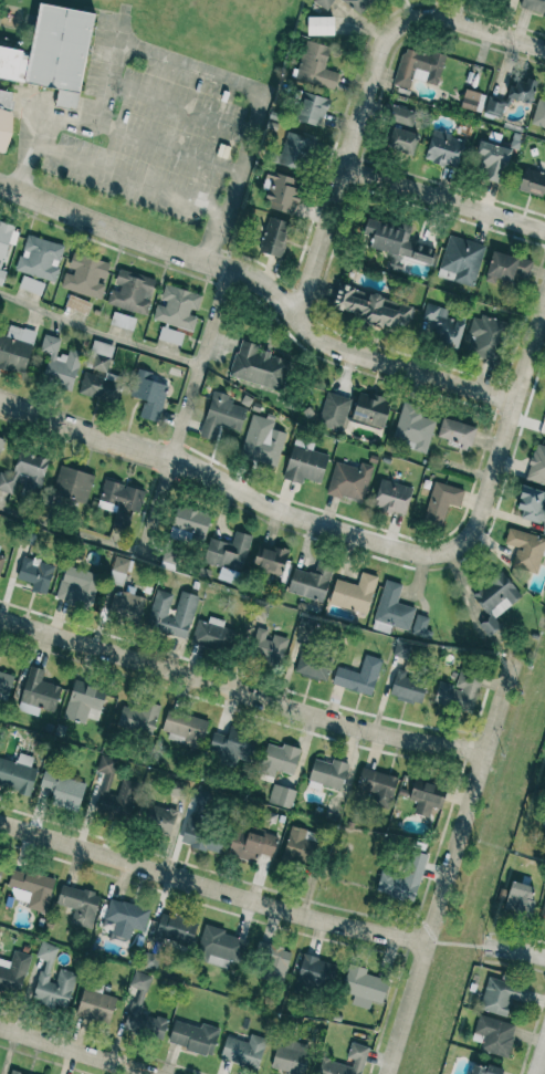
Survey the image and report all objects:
building: (324, 3)
building: (358, 4)
building: (534, 6)
building: (319, 25)
road: (473, 30)
road: (140, 46)
building: (52, 49)
building: (315, 65)
building: (418, 67)
building: (523, 90)
building: (472, 101)
road: (180, 105)
road: (51, 106)
building: (494, 107)
building: (312, 110)
building: (539, 113)
building: (400, 115)
building: (4, 118)
building: (544, 133)
building: (400, 139)
building: (295, 149)
building: (444, 149)
building: (492, 160)
road: (344, 168)
road: (124, 176)
building: (533, 181)
building: (282, 191)
road: (444, 200)
building: (274, 236)
building: (7, 240)
building: (396, 240)
building: (40, 258)
building: (460, 260)
building: (506, 268)
building: (85, 275)
building: (1, 277)
building: (31, 285)
road: (264, 288)
building: (132, 292)
building: (77, 304)
building: (177, 307)
building: (375, 309)
building: (123, 321)
building: (442, 326)
road: (97, 332)
building: (170, 336)
building: (484, 337)
building: (15, 348)
building: (101, 356)
building: (59, 364)
building: (260, 367)
building: (96, 387)
building: (148, 395)
building: (334, 410)
building: (370, 410)
building: (221, 416)
building: (415, 428)
building: (455, 432)
road: (504, 432)
building: (262, 441)
building: (1, 442)
building: (305, 465)
building: (537, 465)
building: (31, 470)
building: (7, 481)
road: (161, 481)
building: (349, 481)
building: (73, 483)
road: (222, 483)
building: (392, 497)
building: (120, 498)
building: (60, 501)
building: (441, 502)
building: (532, 505)
building: (189, 525)
building: (525, 550)
building: (270, 560)
building: (1, 563)
building: (118, 570)
building: (35, 574)
building: (311, 582)
building: (78, 591)
building: (354, 593)
building: (494, 602)
building: (127, 606)
building: (392, 607)
building: (171, 614)
building: (421, 627)
building: (212, 634)
building: (268, 646)
building: (313, 666)
building: (358, 676)
building: (4, 686)
building: (407, 688)
building: (458, 692)
building: (38, 694)
road: (239, 694)
building: (83, 701)
building: (138, 719)
building: (184, 727)
building: (230, 748)
building: (279, 761)
building: (18, 773)
building: (327, 774)
building: (128, 786)
building: (378, 786)
building: (63, 791)
building: (281, 796)
building: (426, 796)
building: (159, 820)
building: (202, 837)
building: (252, 844)
building: (298, 846)
building: (1, 866)
road: (446, 869)
building: (402, 878)
building: (31, 889)
road: (210, 889)
building: (520, 898)
building: (80, 905)
building: (543, 911)
building: (125, 917)
road: (455, 943)
building: (220, 947)
road: (515, 950)
building: (273, 960)
building: (316, 971)
building: (13, 972)
building: (65, 977)
building: (364, 987)
building: (137, 988)
building: (502, 997)
building: (96, 1005)
building: (145, 1023)
building: (494, 1035)
building: (193, 1037)
road: (87, 1047)
building: (243, 1050)
building: (290, 1057)
building: (355, 1060)
road: (542, 1064)
building: (484, 1070)
building: (13, 1073)

